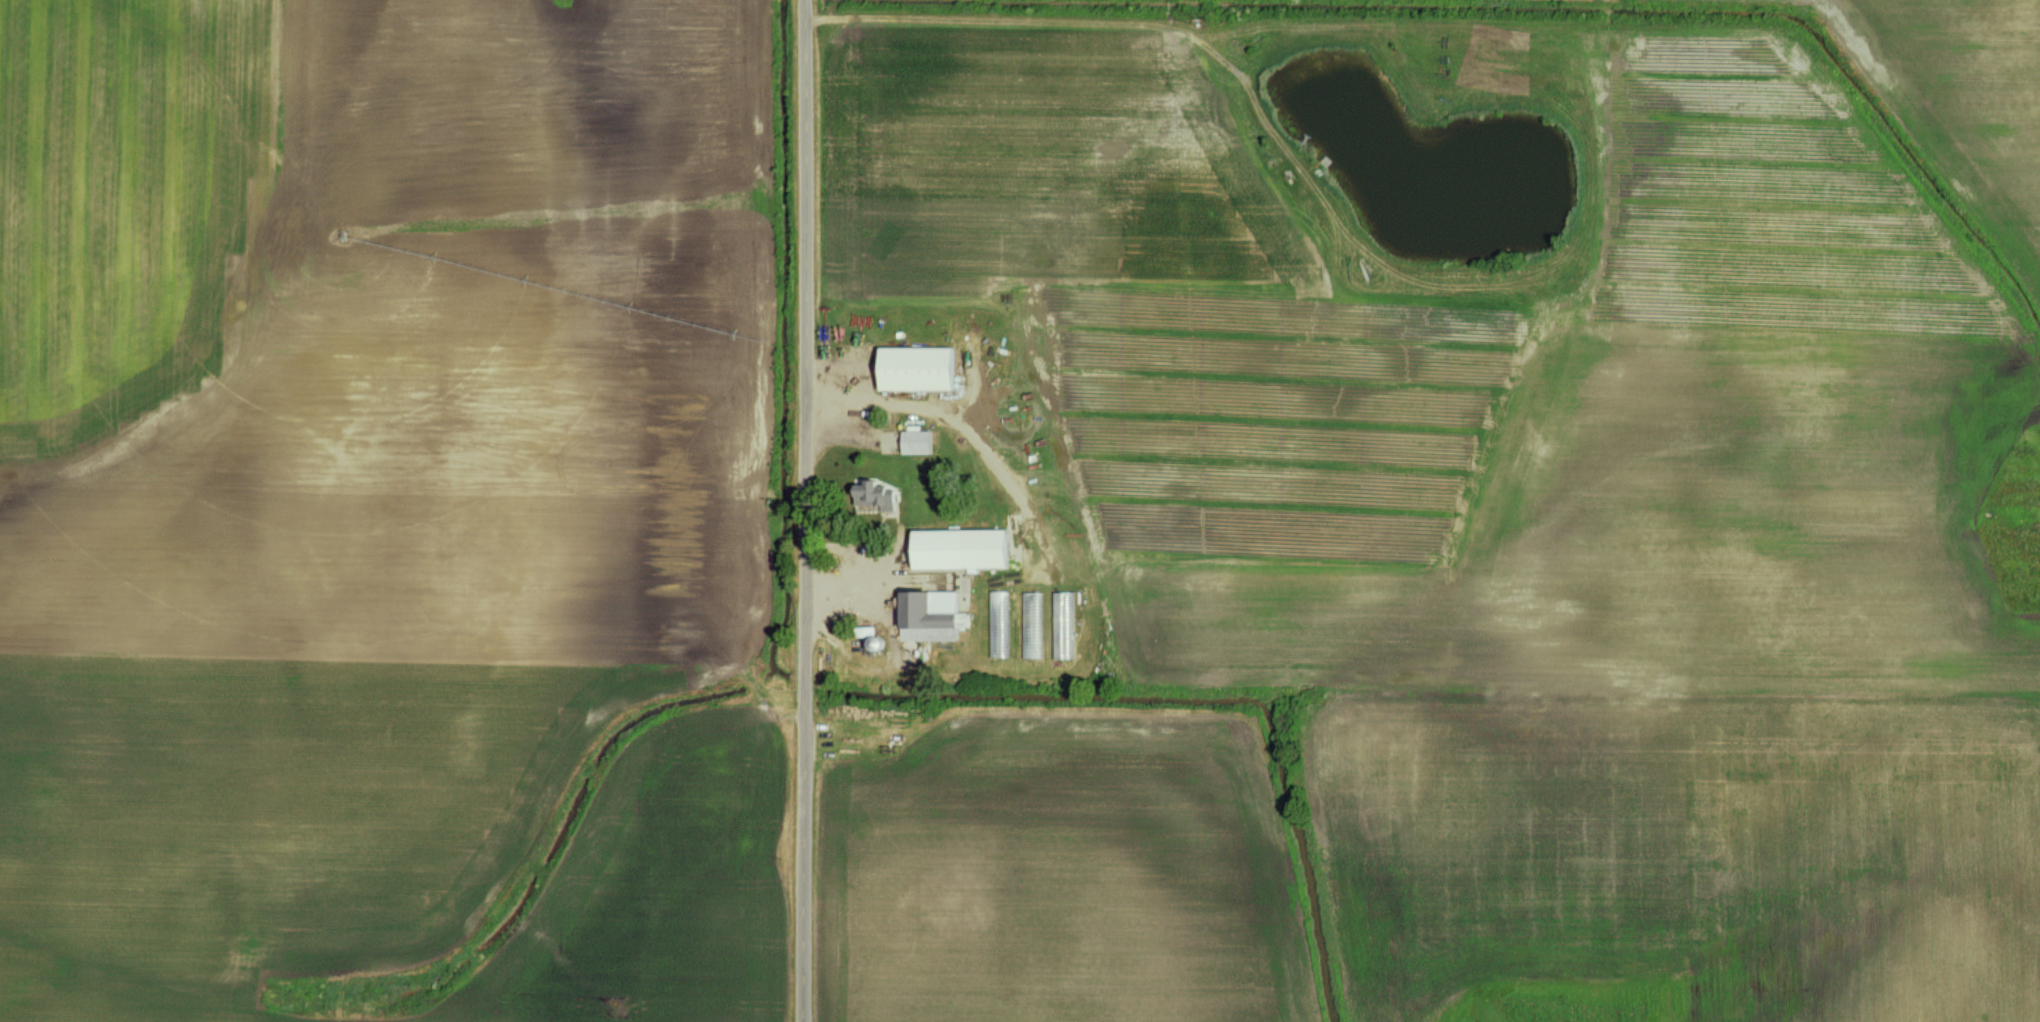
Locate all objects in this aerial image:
building: (917, 368)
building: (916, 441)
building: (874, 495)
road: (805, 510)
building: (961, 548)
building: (930, 617)
building: (1058, 624)

